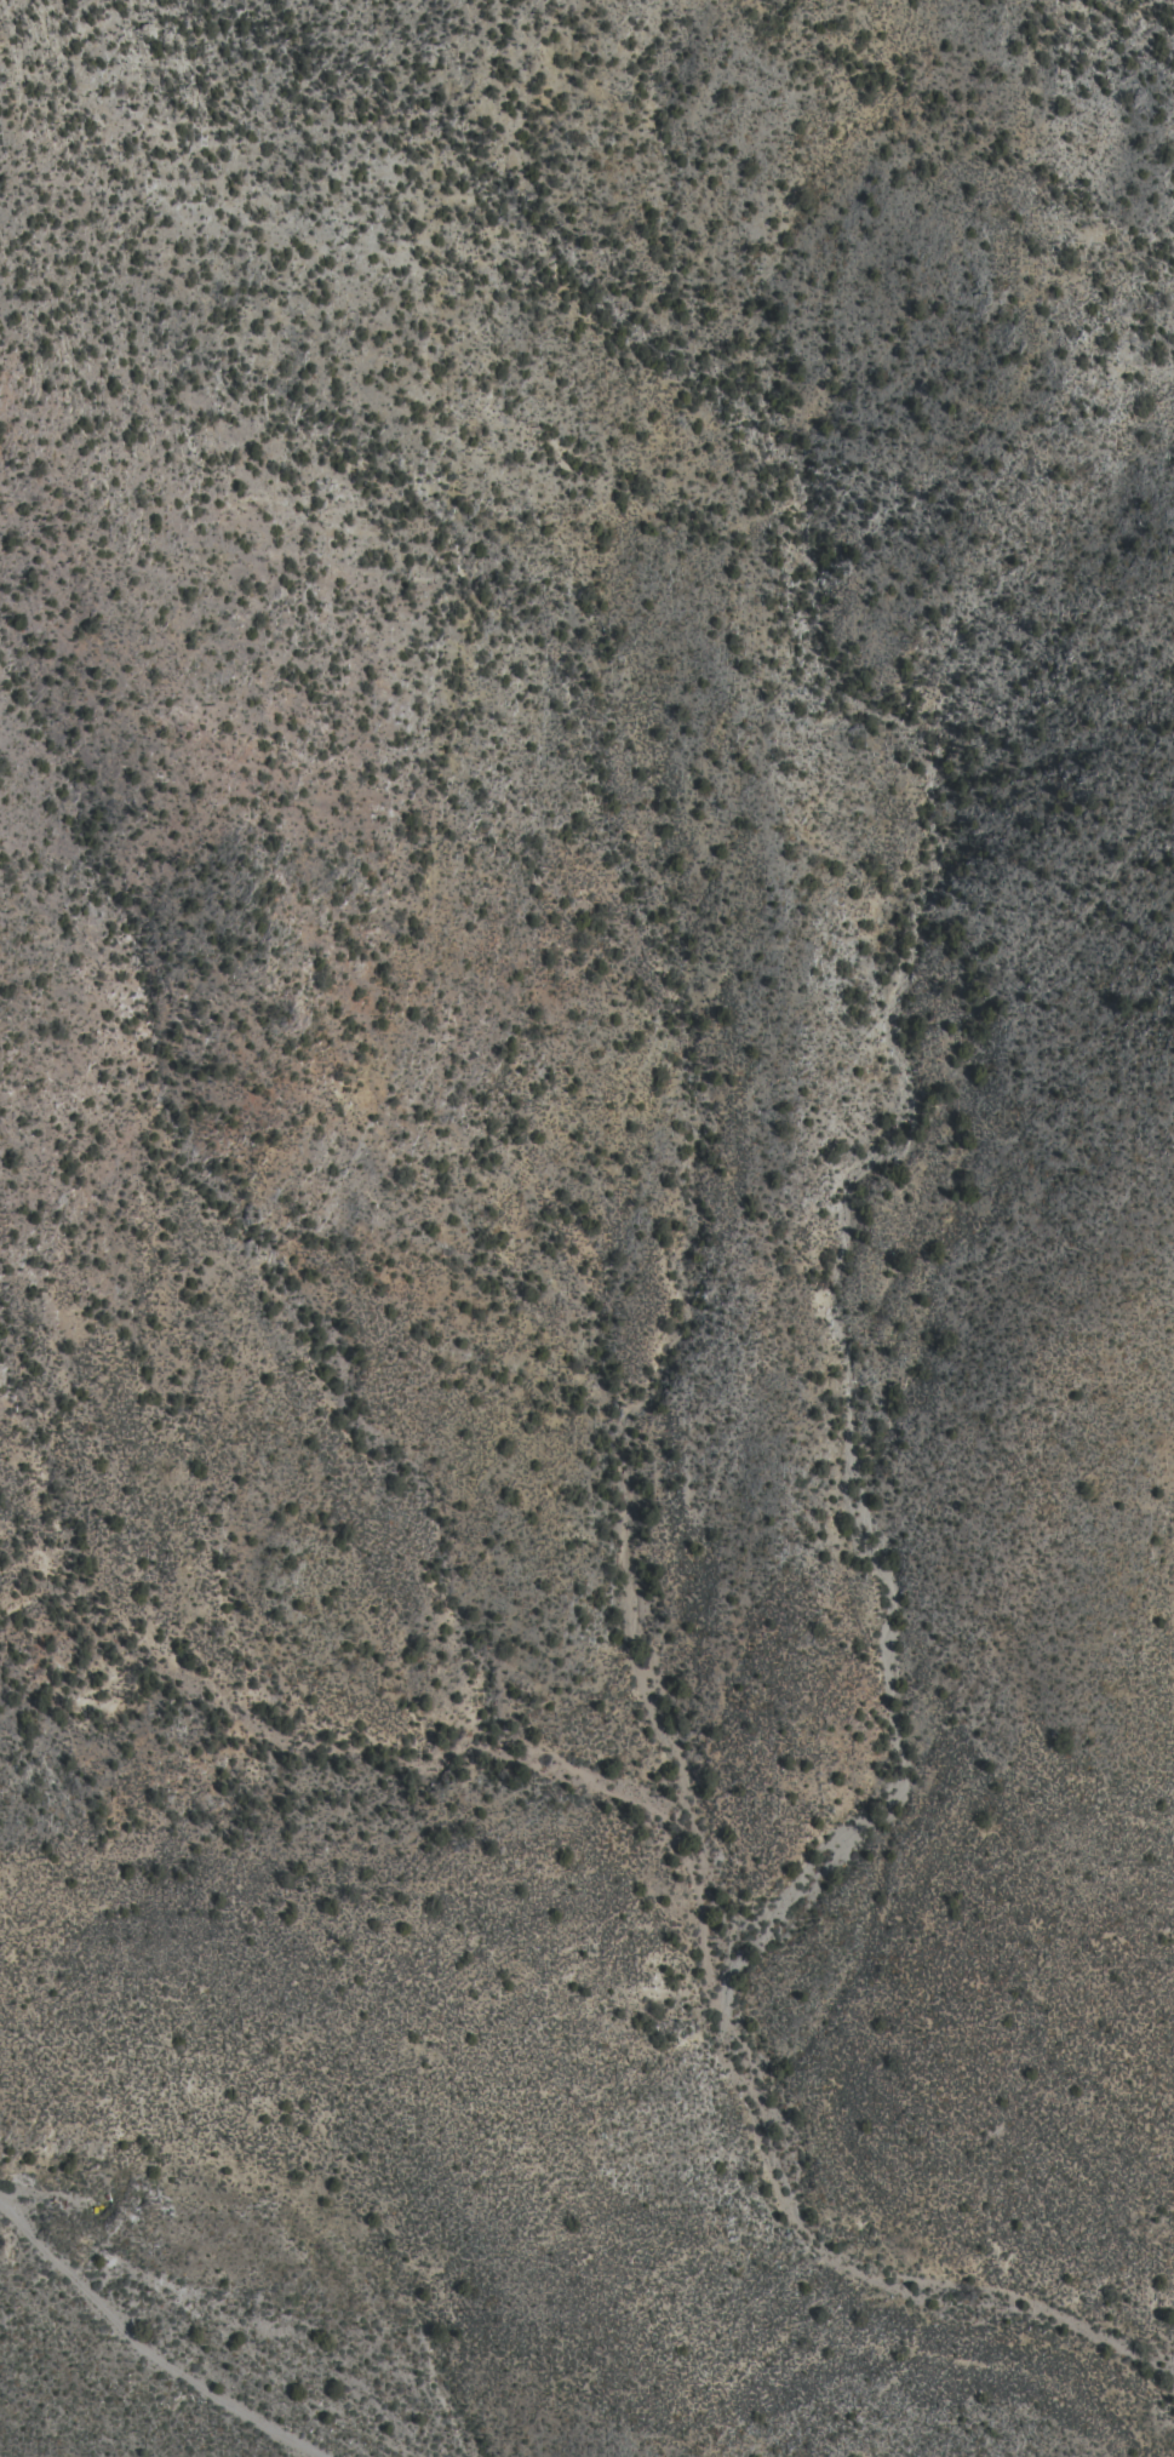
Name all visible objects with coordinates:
road: (113, 2395)

